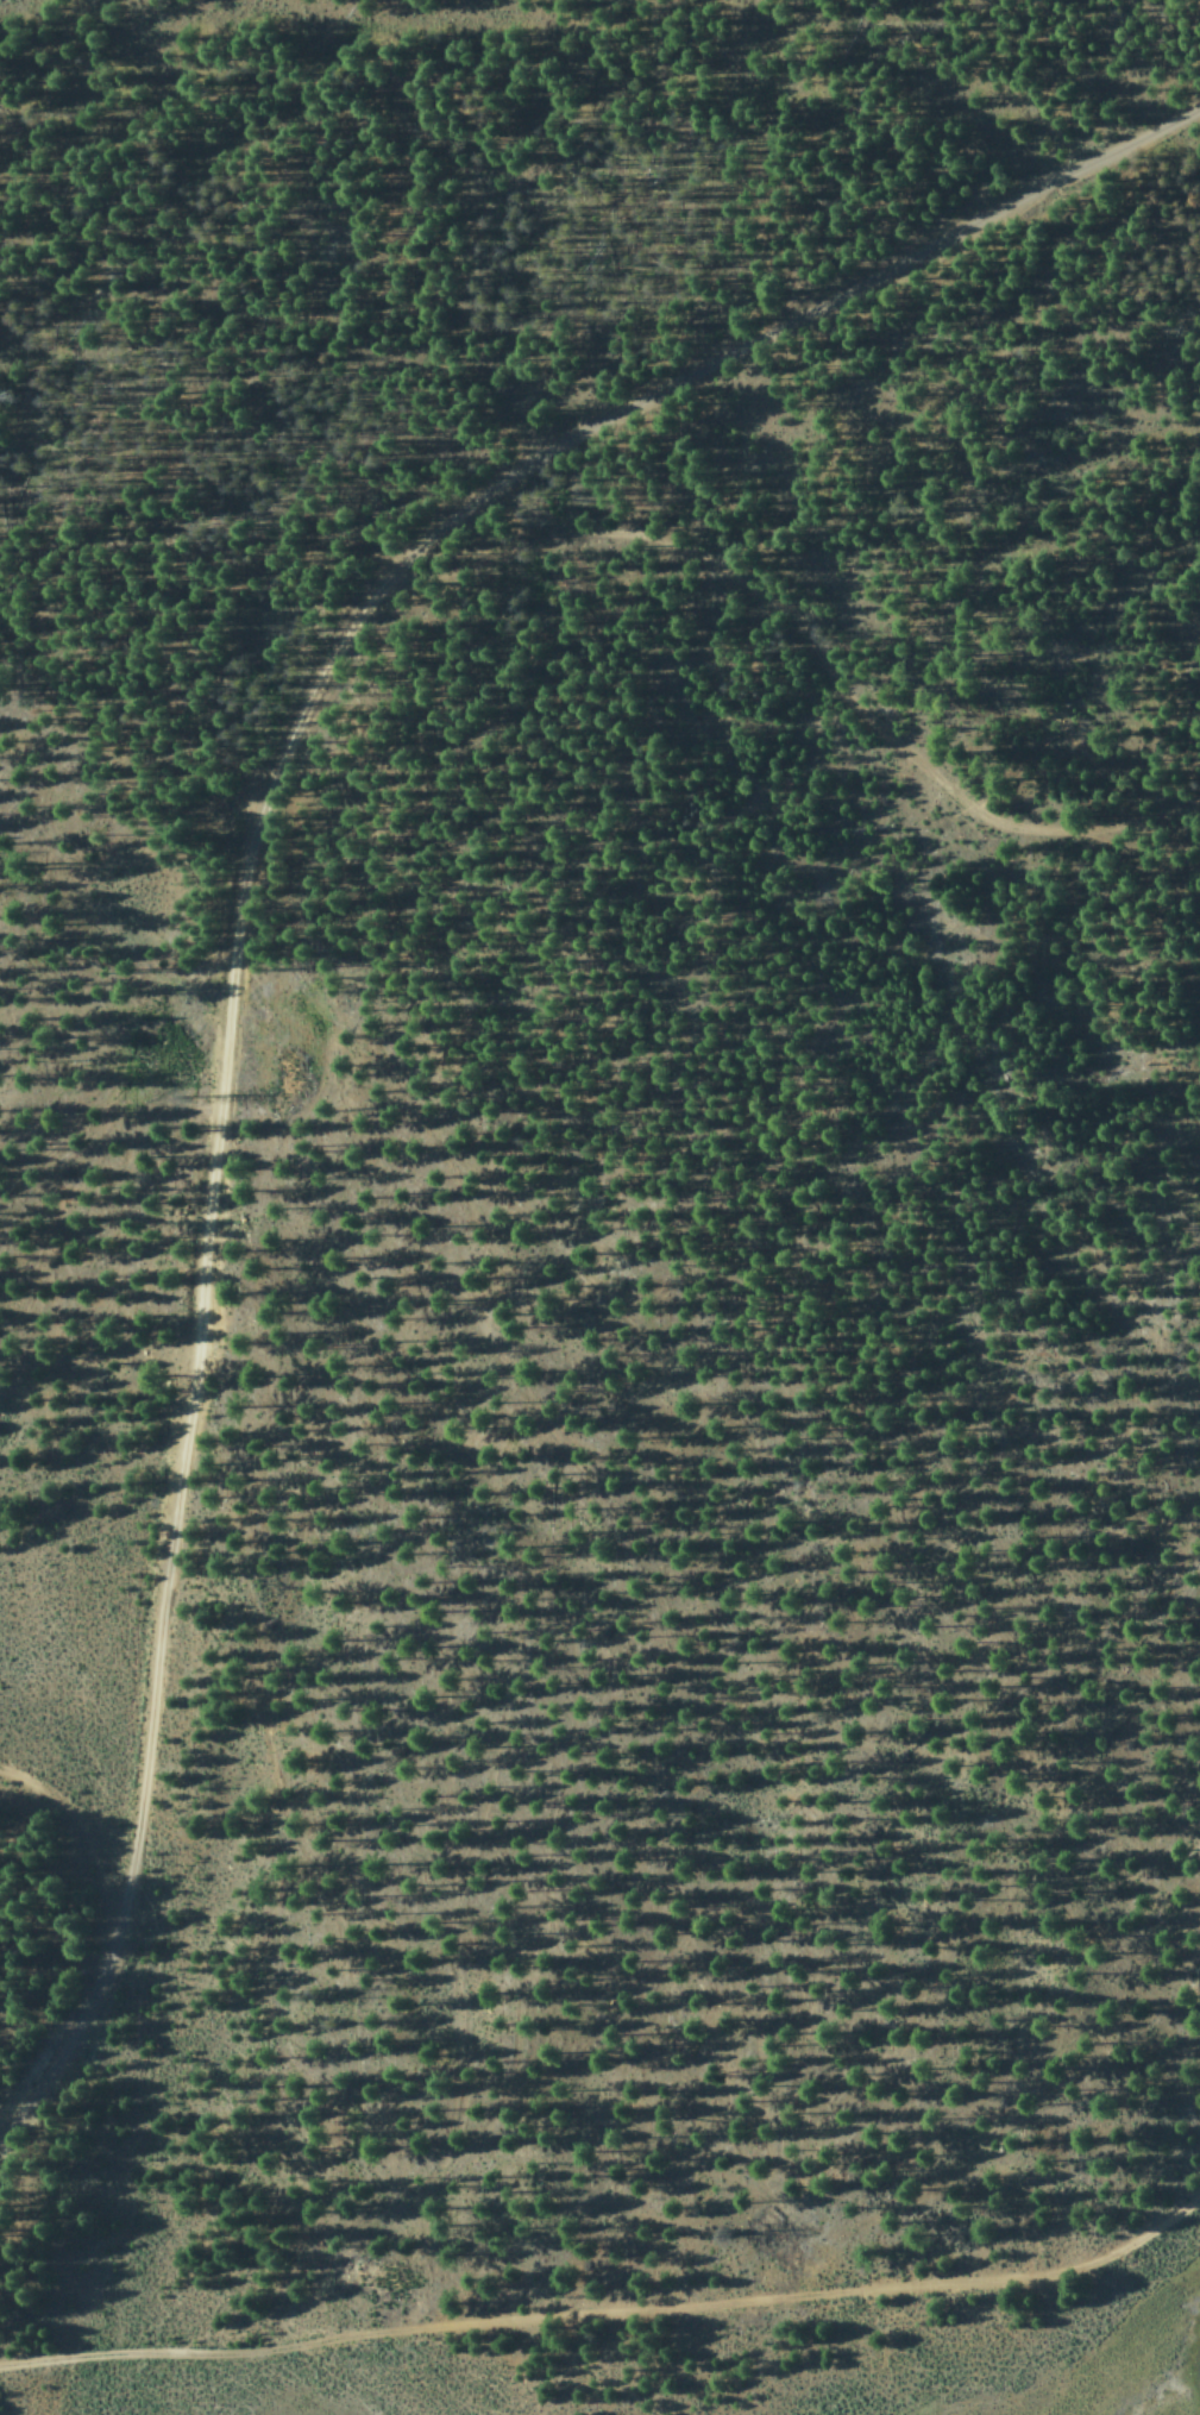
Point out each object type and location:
road: (281, 909)
road: (219, 2300)

